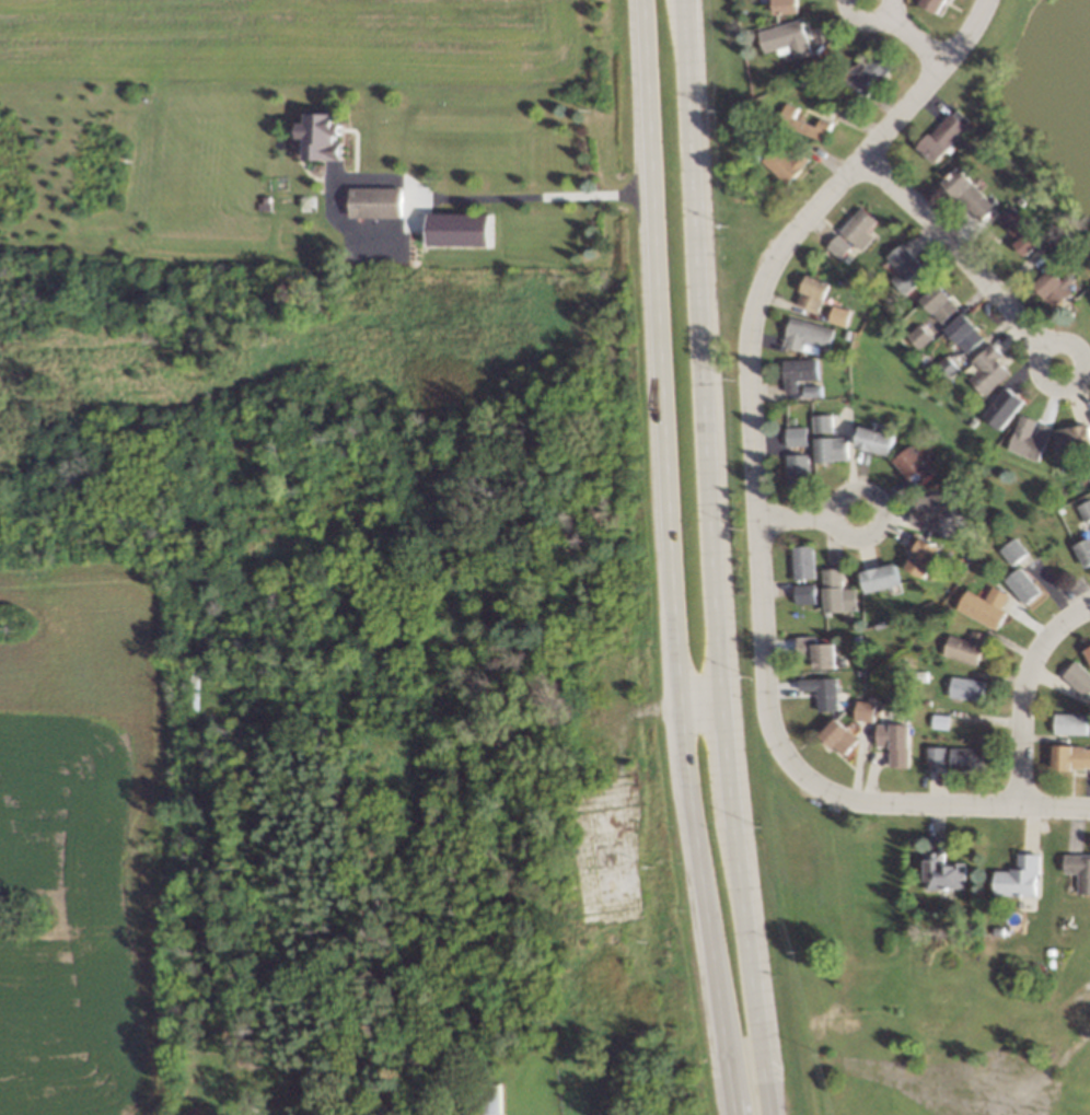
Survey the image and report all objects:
building: (928, 3)
building: (782, 5)
road: (908, 32)
building: (782, 37)
building: (869, 70)
building: (807, 78)
building: (793, 121)
building: (320, 135)
building: (938, 136)
building: (752, 155)
building: (782, 161)
road: (414, 183)
building: (967, 189)
building: (1031, 189)
building: (1020, 197)
building: (375, 200)
building: (1016, 225)
building: (460, 230)
building: (854, 231)
building: (1057, 241)
road: (964, 255)
building: (903, 266)
building: (1050, 283)
building: (810, 290)
building: (1083, 295)
building: (937, 301)
building: (834, 313)
building: (960, 330)
building: (918, 333)
building: (803, 334)
building: (903, 338)
building: (943, 364)
building: (984, 367)
building: (795, 370)
building: (811, 387)
building: (973, 394)
building: (997, 405)
building: (1089, 415)
building: (819, 420)
building: (1025, 432)
building: (792, 433)
building: (1068, 437)
building: (871, 438)
building: (827, 446)
building: (909, 463)
building: (796, 468)
road: (756, 498)
building: (927, 507)
building: (1083, 508)
building: (384, 511)
road: (807, 516)
building: (939, 526)
building: (534, 543)
building: (1012, 547)
building: (1081, 549)
building: (916, 553)
road: (716, 558)
road: (670, 559)
building: (800, 560)
building: (333, 574)
building: (876, 576)
building: (383, 578)
building: (1018, 584)
building: (803, 590)
building: (833, 590)
building: (981, 604)
building: (960, 644)
building: (811, 652)
building: (1086, 652)
building: (1075, 677)
building: (190, 683)
building: (962, 686)
building: (817, 688)
road: (1024, 689)
building: (863, 706)
road: (700, 712)
building: (935, 720)
building: (1065, 722)
building: (230, 723)
building: (835, 733)
building: (890, 741)
building: (934, 752)
building: (962, 755)
building: (1069, 755)
building: (1076, 872)
building: (938, 873)
building: (1014, 878)
building: (610, 881)
building: (511, 1021)
building: (490, 1095)

